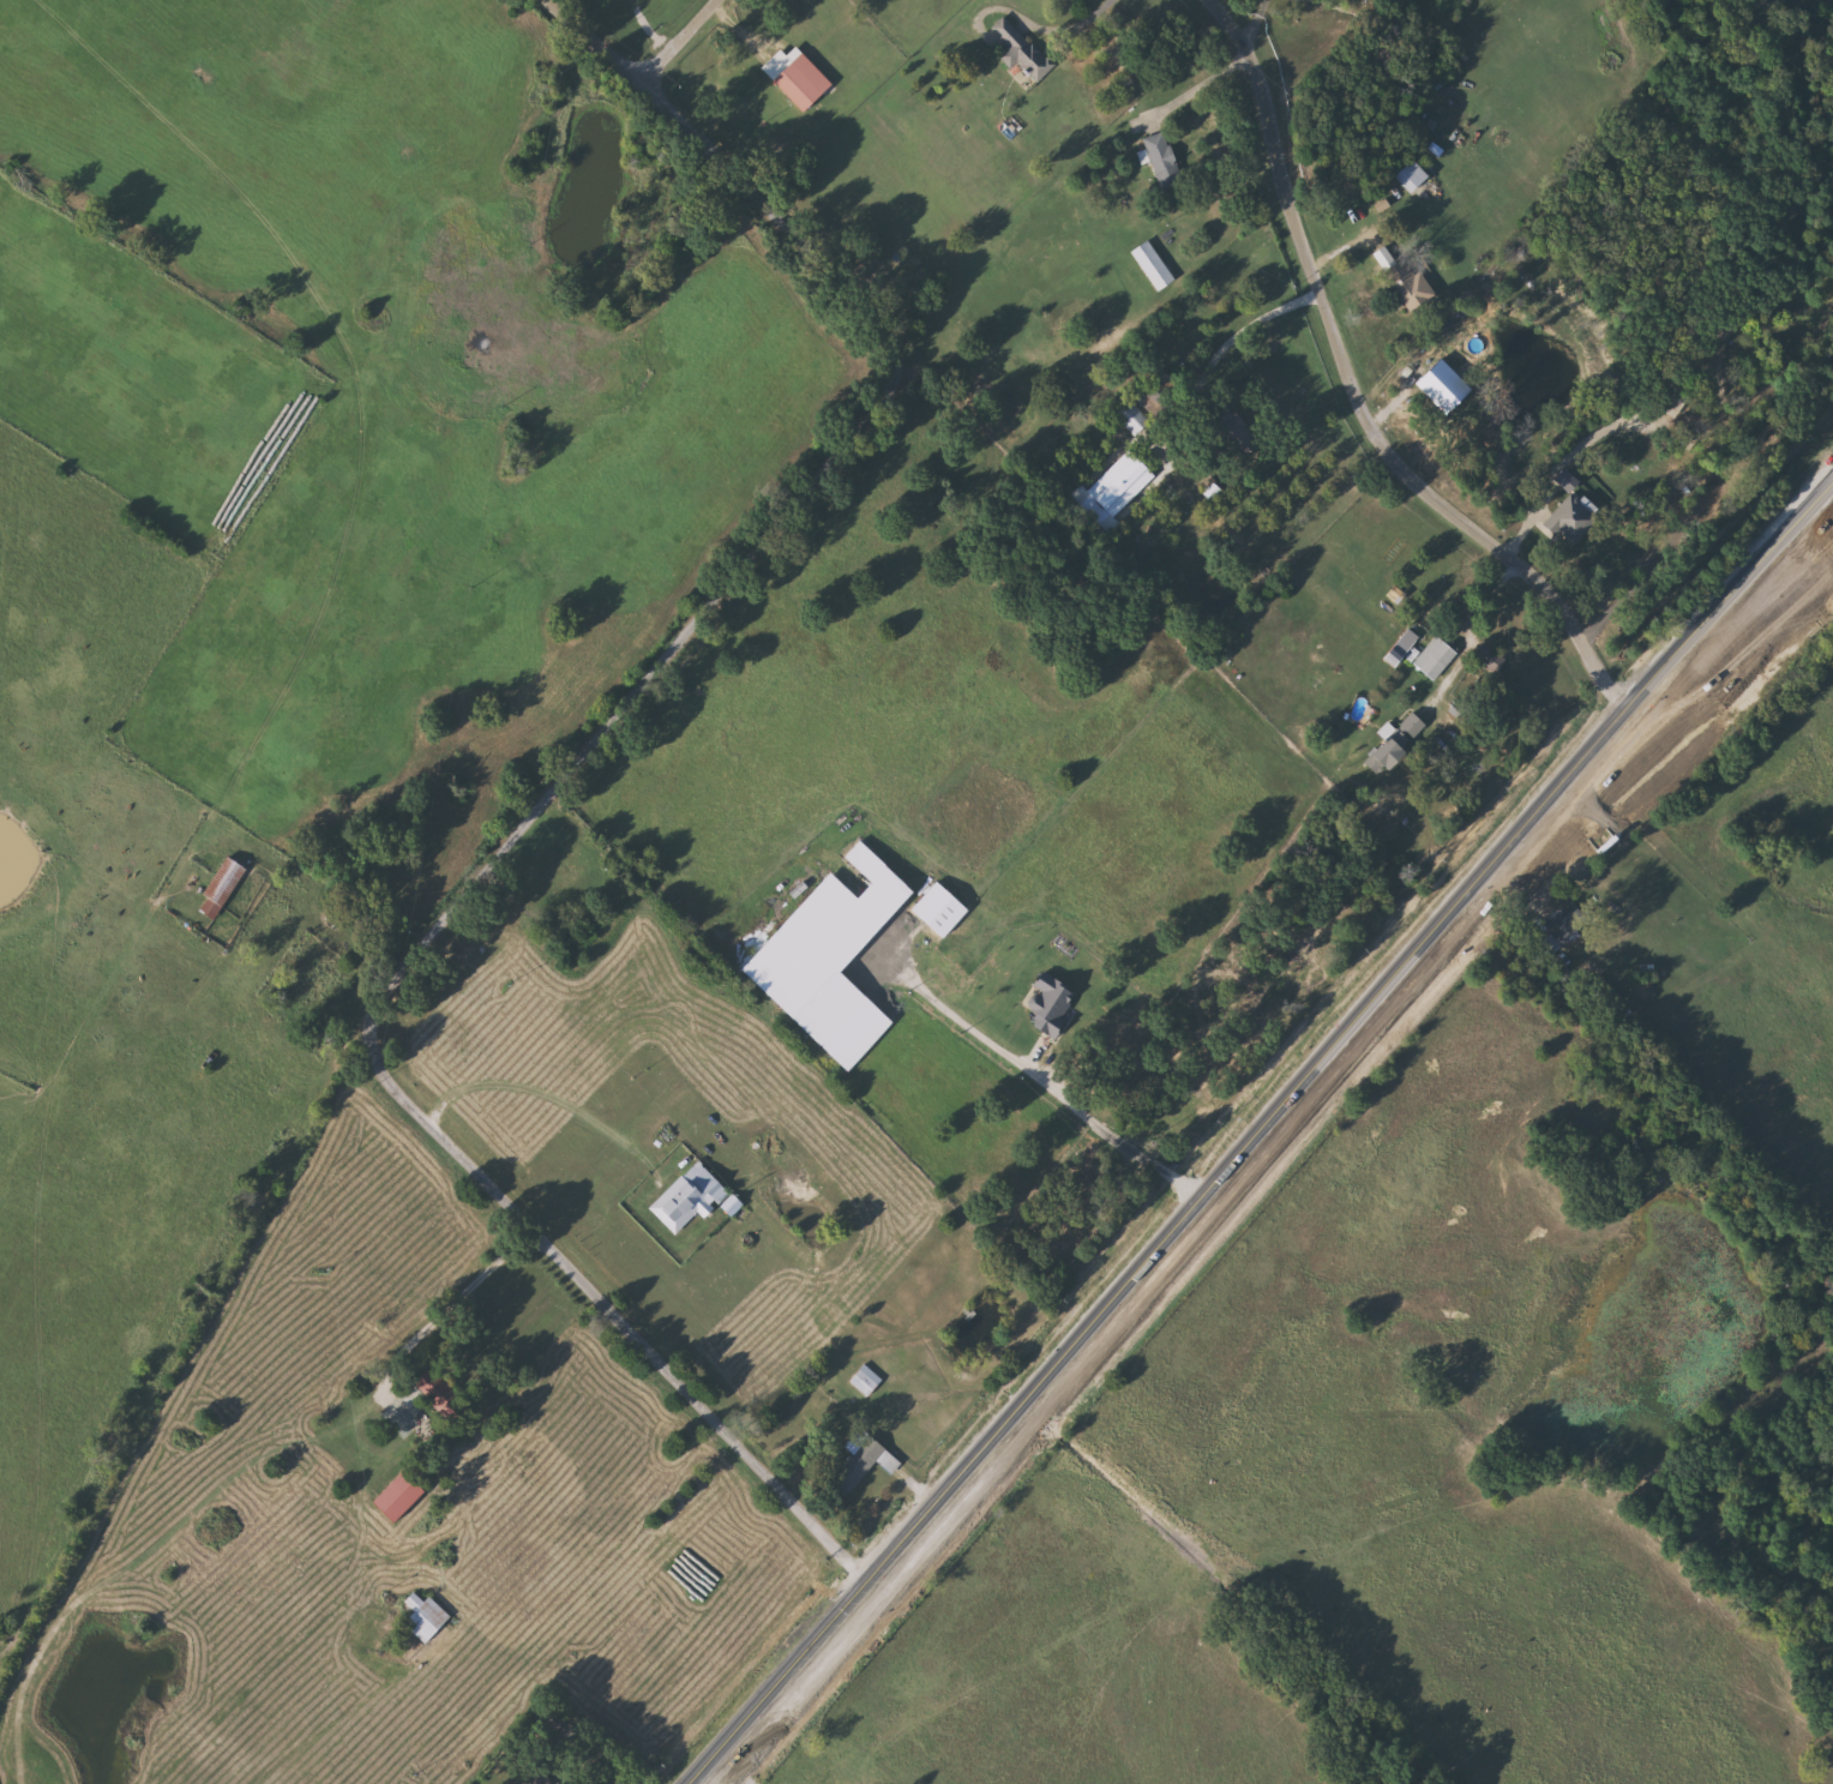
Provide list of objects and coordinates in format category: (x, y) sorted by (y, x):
road: (571, 4)
road: (1262, 22)
road: (1062, 25)
road: (686, 41)
building: (1022, 46)
building: (805, 80)
road: (1204, 84)
building: (1166, 158)
building: (1416, 175)
building: (1154, 265)
building: (1411, 284)
road: (1255, 319)
building: (1158, 389)
road: (1357, 391)
building: (1675, 397)
building: (1236, 430)
building: (1575, 518)
road: (1477, 625)
building: (1401, 653)
building: (1437, 656)
building: (1401, 740)
road: (555, 782)
road: (615, 829)
building: (575, 865)
building: (223, 885)
building: (942, 907)
building: (1574, 923)
building: (834, 956)
building: (1052, 1002)
road: (1046, 1085)
road: (541, 1097)
road: (1257, 1134)
building: (689, 1197)
road: (474, 1277)
building: (865, 1378)
building: (865, 1462)
road: (913, 1489)
building: (426, 1616)
road: (601, 1754)
building: (543, 1778)

